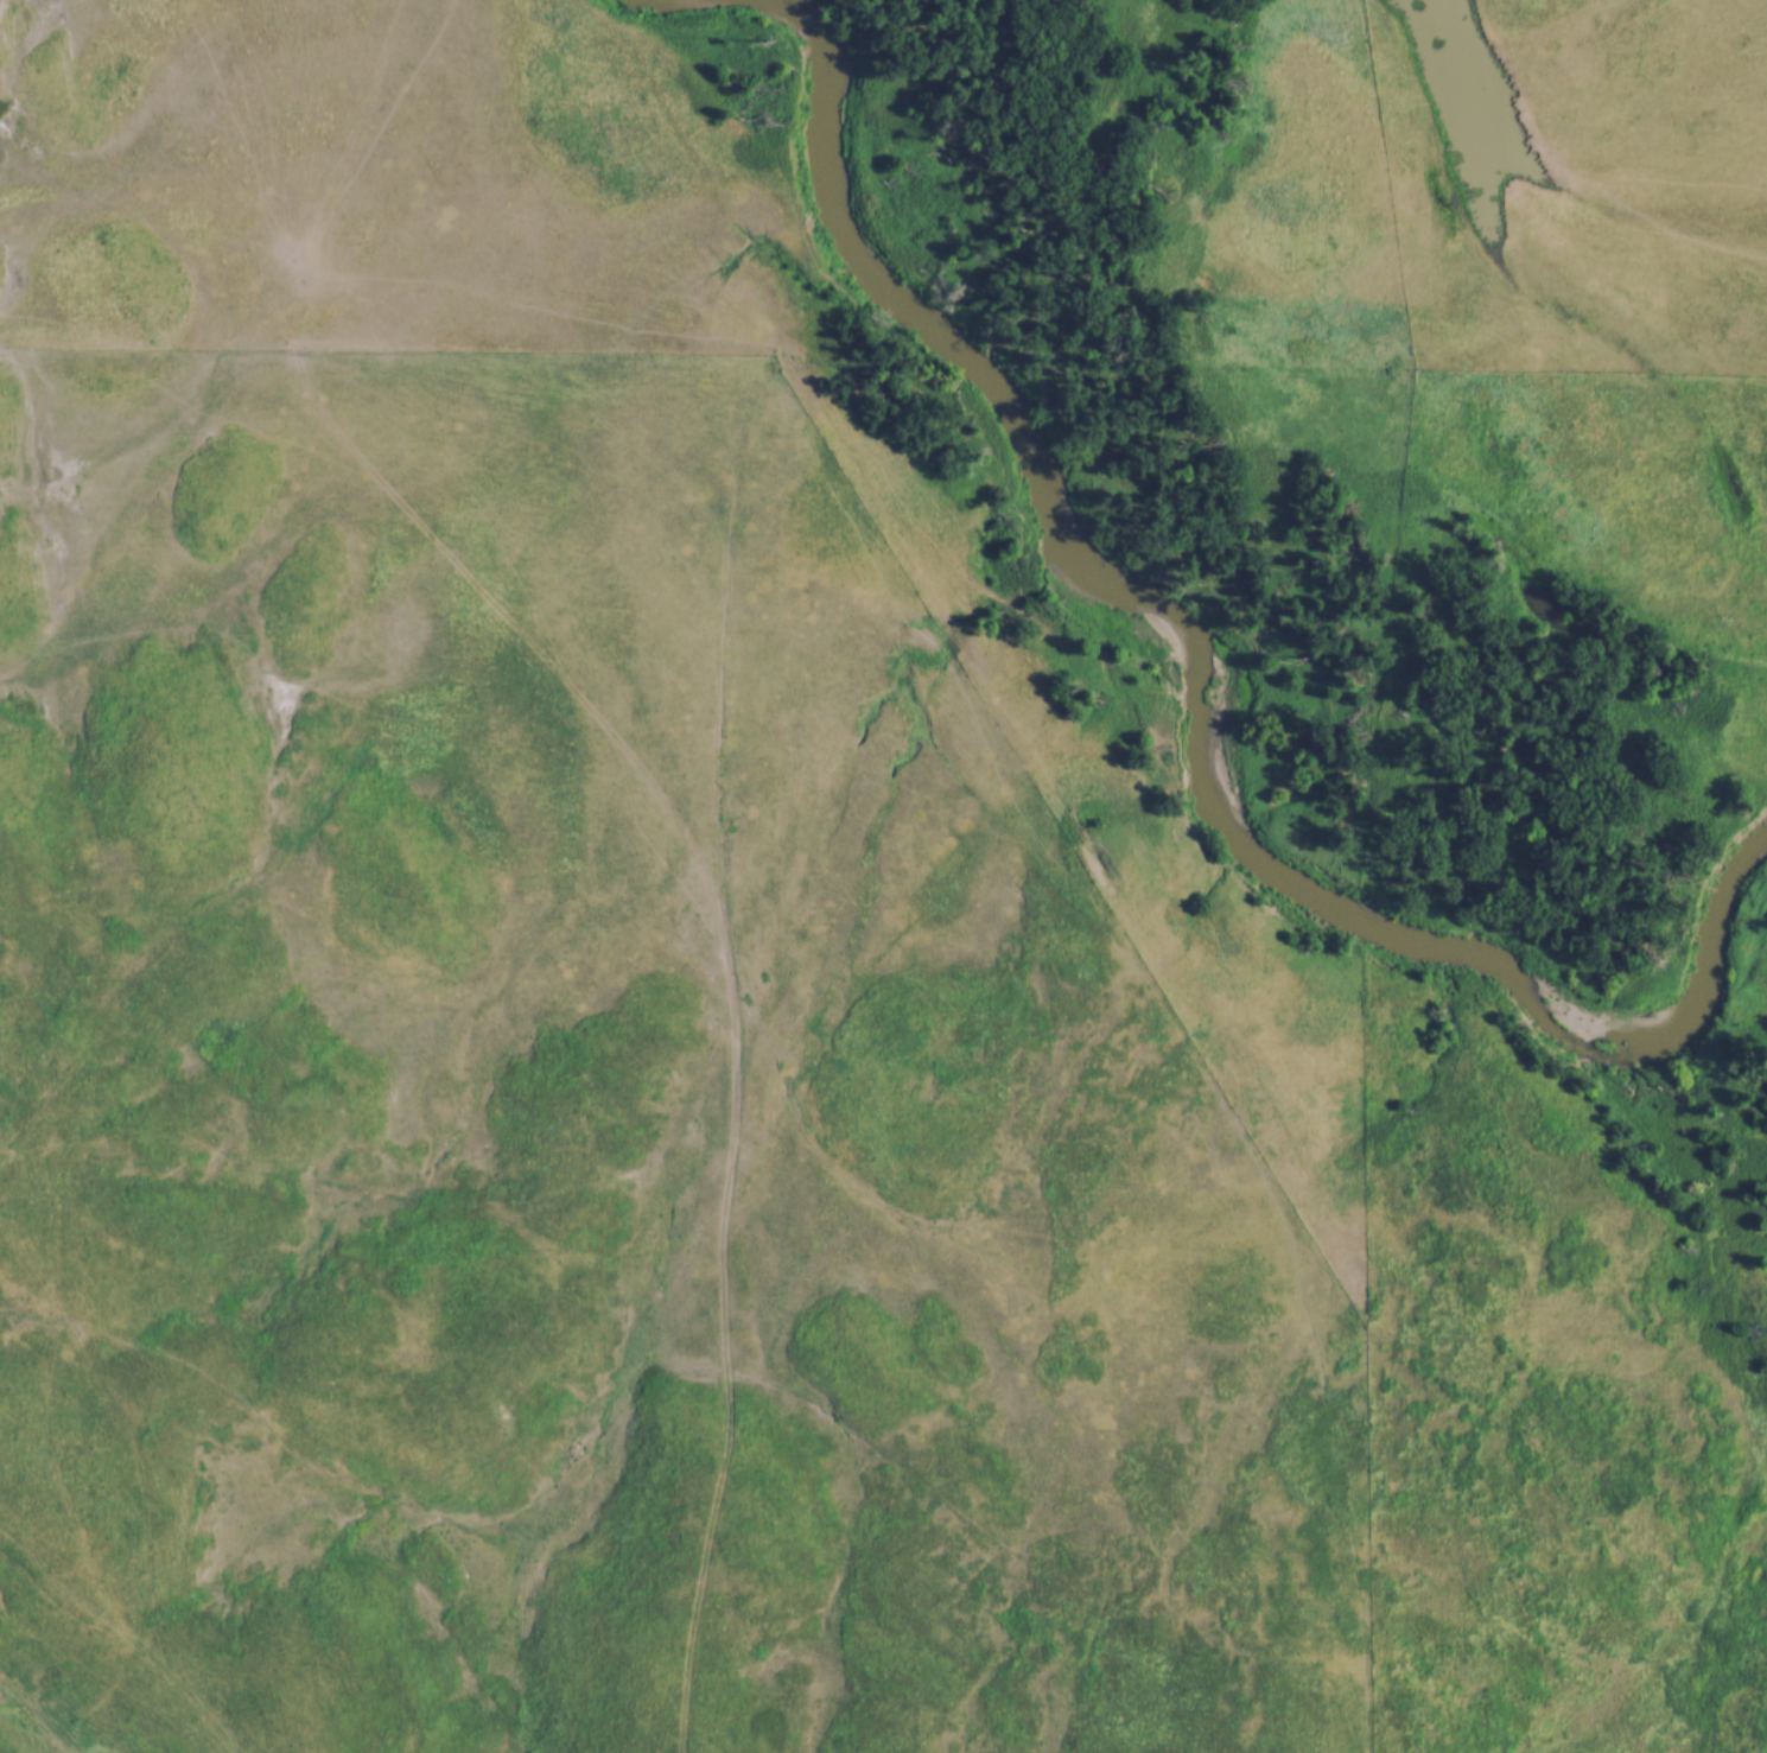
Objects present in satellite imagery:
river: (1190, 711)

